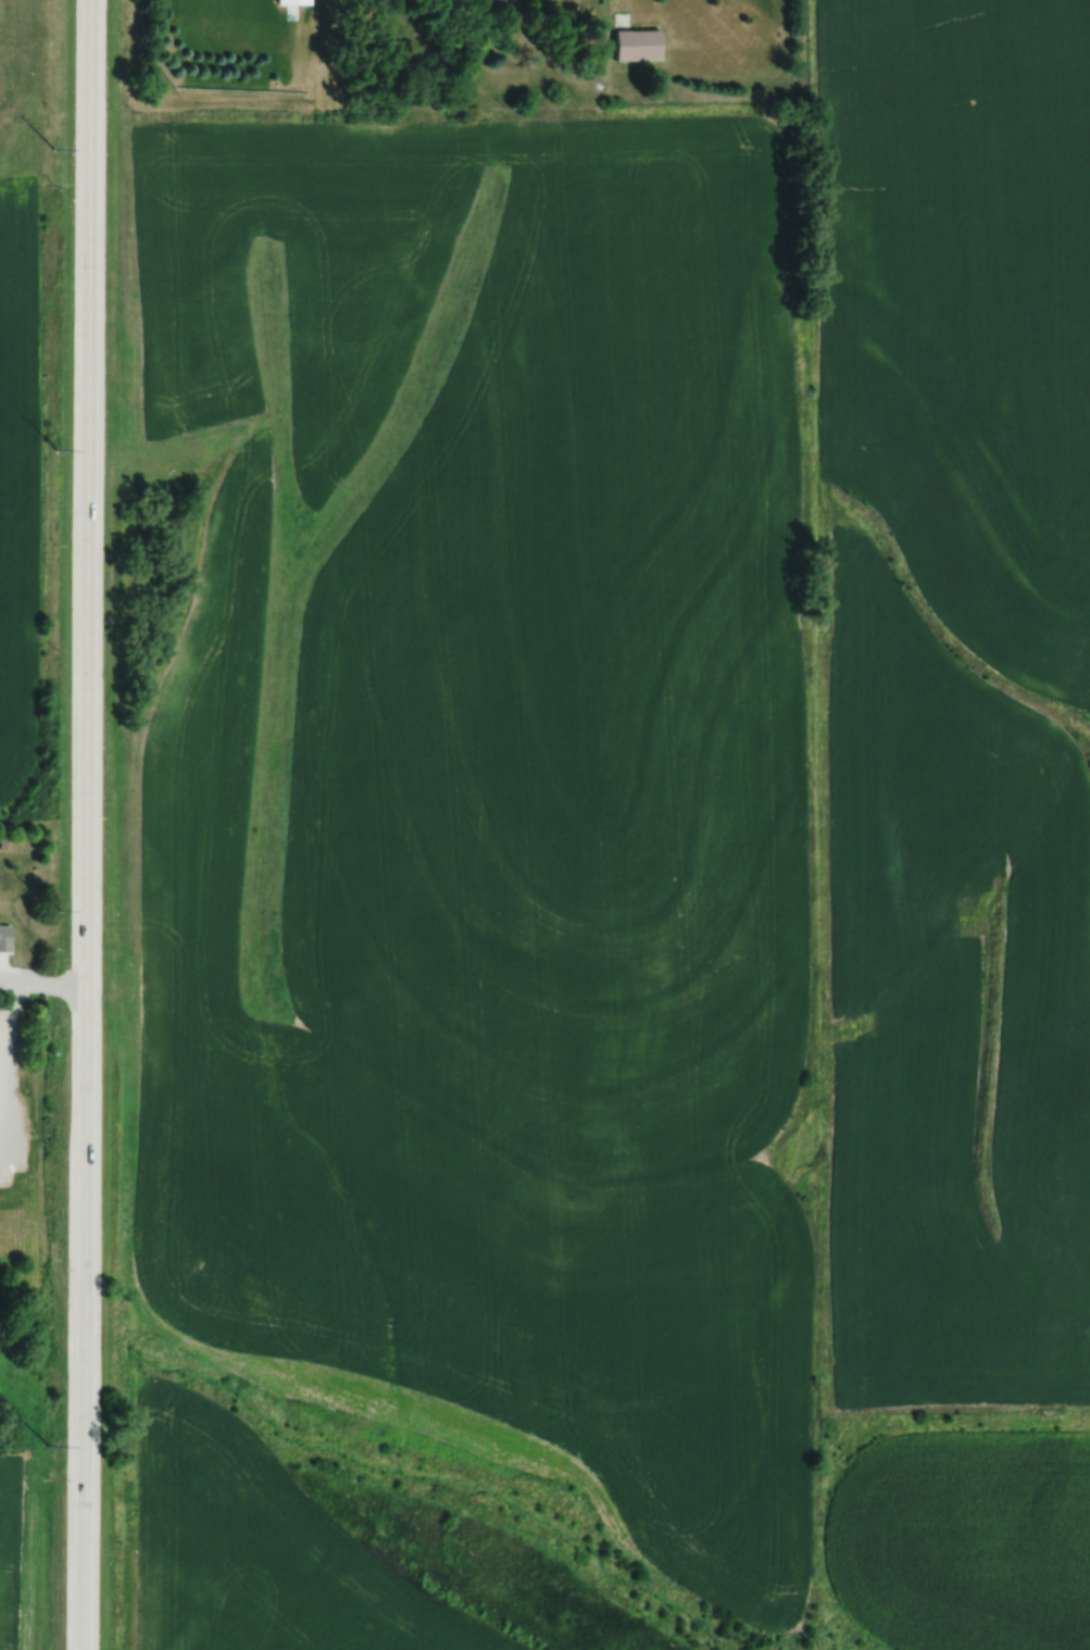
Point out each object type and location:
building: (288, 2)
building: (440, 3)
building: (634, 46)
power tower: (52, 149)
power tower: (54, 449)
road: (83, 824)
building: (14, 904)
power tower: (50, 911)
road: (0, 980)
road: (40, 983)
power tower: (47, 1446)

